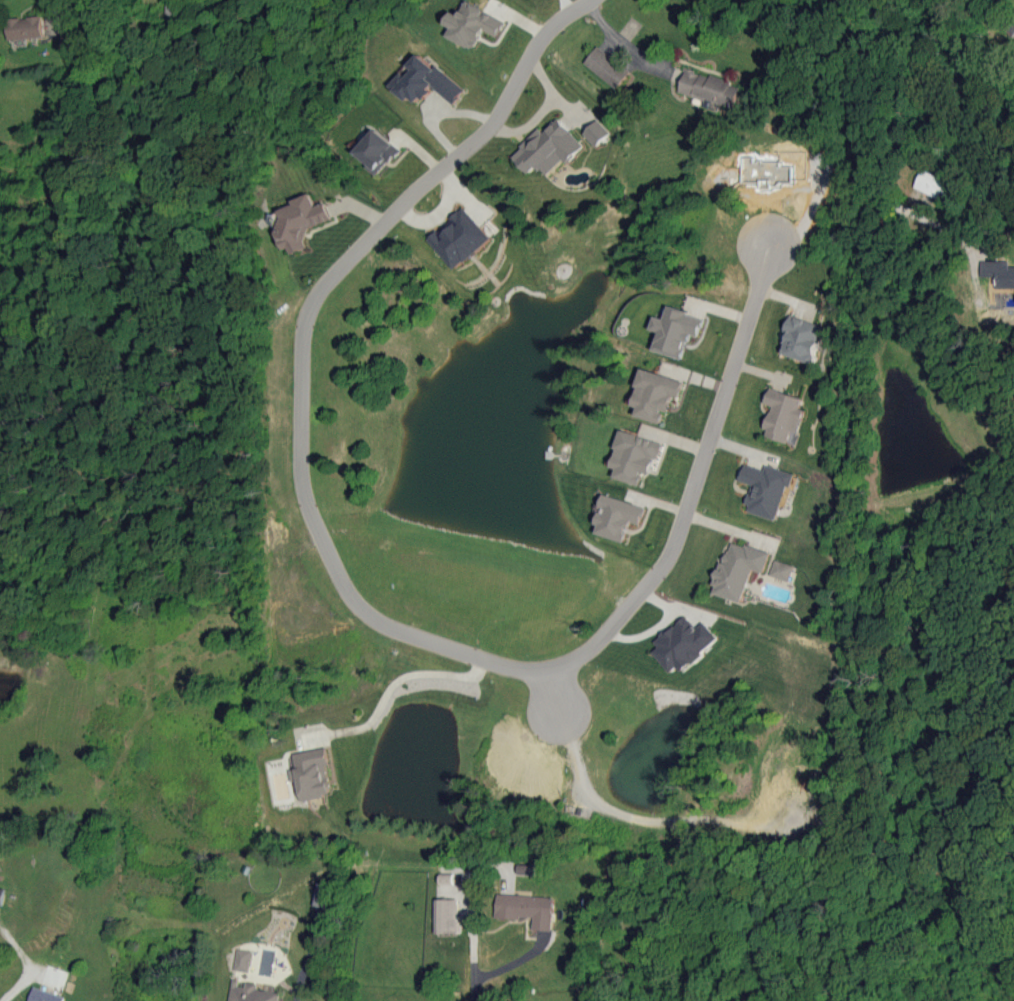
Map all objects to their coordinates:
building: (175, 10)
road: (55, 12)
building: (473, 25)
building: (26, 27)
road: (622, 43)
building: (607, 67)
building: (426, 81)
building: (710, 88)
building: (597, 132)
building: (549, 148)
road: (861, 149)
building: (378, 151)
building: (933, 184)
building: (300, 221)
building: (460, 238)
building: (999, 273)
building: (675, 331)
building: (804, 338)
building: (655, 394)
building: (785, 416)
building: (634, 456)
building: (766, 489)
building: (617, 517)
building: (739, 569)
building: (782, 570)
road: (348, 594)
building: (683, 644)
road: (402, 683)
building: (312, 773)
building: (321, 894)
building: (1, 895)
building: (528, 909)
building: (446, 916)
building: (243, 960)
road: (471, 970)
road: (13, 985)
building: (252, 993)
building: (44, 995)

